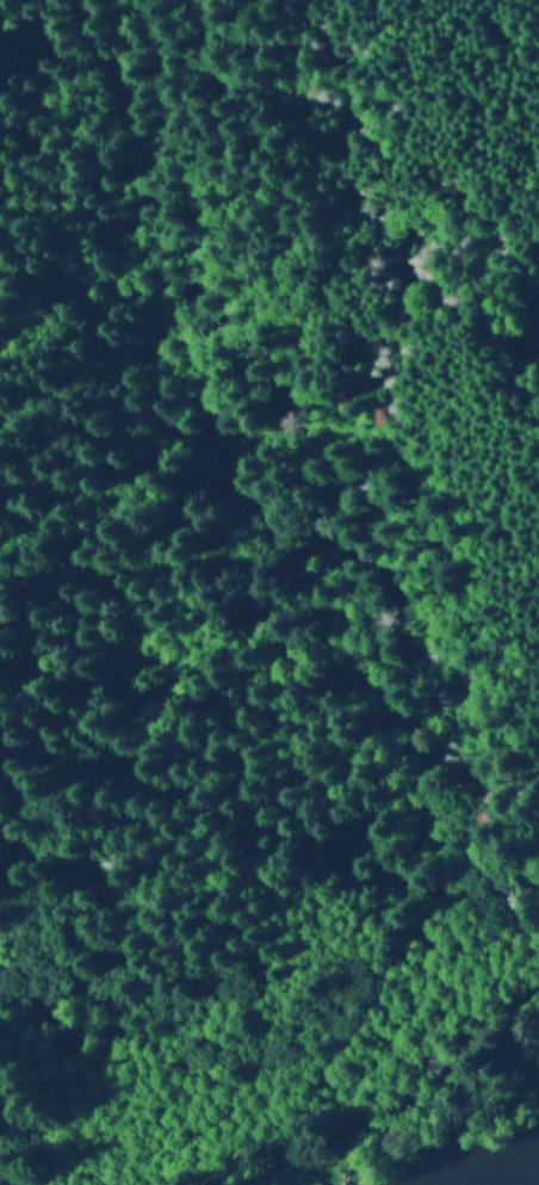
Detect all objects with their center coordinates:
river: (516, 1179)

